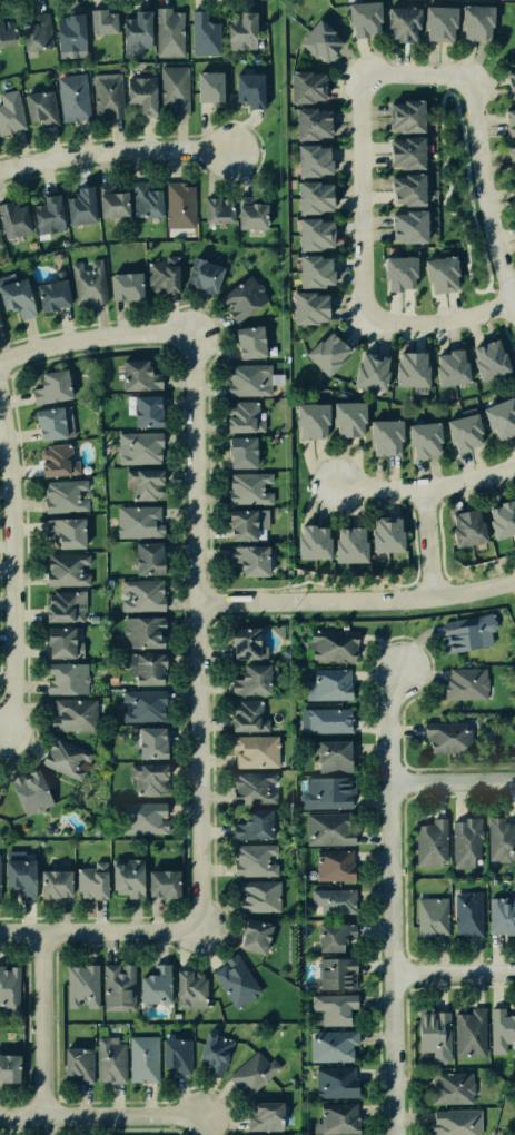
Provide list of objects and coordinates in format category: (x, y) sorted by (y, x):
building: (359, 18)
building: (398, 20)
building: (435, 21)
building: (472, 21)
building: (99, 22)
building: (132, 29)
building: (4, 31)
building: (32, 32)
building: (66, 32)
building: (167, 32)
building: (206, 32)
building: (244, 32)
park: (504, 32)
building: (319, 39)
road: (413, 76)
building: (210, 81)
building: (303, 82)
road: (450, 82)
building: (508, 82)
road: (448, 89)
building: (174, 91)
building: (246, 93)
building: (105, 97)
building: (71, 98)
building: (137, 98)
road: (455, 98)
building: (36, 103)
road: (467, 103)
road: (460, 106)
building: (9, 112)
building: (399, 115)
road: (439, 120)
building: (306, 121)
building: (507, 121)
road: (463, 124)
road: (452, 125)
road: (472, 140)
road: (458, 141)
road: (466, 141)
road: (450, 146)
road: (112, 150)
building: (402, 151)
building: (308, 158)
building: (508, 158)
building: (402, 189)
building: (512, 191)
building: (310, 194)
road: (358, 197)
park: (460, 197)
building: (142, 199)
road: (483, 200)
building: (109, 204)
building: (76, 205)
building: (215, 206)
building: (177, 208)
building: (42, 214)
building: (249, 214)
road: (473, 216)
building: (12, 217)
road: (459, 219)
building: (403, 226)
building: (307, 231)
building: (0, 246)
building: (308, 269)
building: (394, 270)
building: (198, 273)
building: (437, 273)
building: (158, 276)
building: (85, 279)
building: (46, 285)
building: (122, 286)
road: (492, 290)
building: (13, 298)
road: (503, 299)
building: (240, 300)
building: (306, 306)
road: (507, 313)
road: (436, 323)
building: (0, 324)
park: (507, 335)
road: (507, 335)
road: (93, 337)
building: (240, 342)
building: (321, 352)
building: (484, 354)
building: (445, 362)
building: (364, 369)
building: (136, 372)
building: (405, 372)
building: (247, 382)
building: (44, 383)
building: (142, 409)
building: (498, 413)
building: (238, 416)
building: (345, 418)
building: (307, 420)
building: (41, 421)
building: (460, 427)
building: (380, 433)
building: (418, 433)
building: (141, 446)
building: (236, 452)
building: (51, 457)
building: (143, 484)
road: (426, 488)
building: (246, 490)
building: (65, 495)
building: (498, 516)
building: (138, 522)
building: (236, 525)
building: (460, 525)
building: (60, 532)
building: (382, 533)
building: (307, 542)
building: (346, 543)
road: (427, 543)
building: (140, 557)
building: (245, 560)
building: (65, 570)
road: (10, 574)
building: (139, 593)
road: (356, 602)
building: (63, 606)
road: (197, 626)
building: (142, 629)
building: (464, 631)
building: (238, 641)
building: (58, 644)
building: (330, 644)
building: (142, 665)
building: (248, 677)
building: (63, 680)
building: (328, 684)
building: (463, 684)
building: (143, 704)
building: (73, 715)
building: (239, 717)
building: (324, 720)
building: (447, 739)
building: (149, 740)
building: (251, 751)
building: (323, 757)
building: (65, 758)
building: (147, 778)
road: (452, 781)
building: (250, 789)
building: (26, 791)
building: (0, 792)
building: (324, 793)
building: (145, 818)
building: (248, 823)
building: (328, 829)
building: (463, 838)
building: (426, 842)
building: (499, 842)
building: (252, 861)
building: (0, 865)
building: (329, 866)
building: (17, 874)
building: (122, 876)
building: (50, 881)
building: (89, 882)
building: (164, 884)
building: (256, 897)
building: (330, 901)
road: (390, 901)
building: (467, 915)
building: (432, 917)
building: (502, 917)
road: (102, 932)
building: (247, 936)
building: (333, 939)
building: (333, 974)
road: (454, 976)
building: (230, 980)
building: (151, 983)
building: (116, 984)
building: (9, 987)
building: (79, 987)
building: (187, 987)
building: (333, 1010)
road: (42, 1025)
building: (502, 1029)
building: (468, 1030)
building: (428, 1032)
building: (330, 1046)
building: (211, 1050)
building: (175, 1056)
building: (142, 1059)
building: (107, 1060)
building: (75, 1063)
building: (8, 1067)
building: (252, 1073)
building: (331, 1084)
building: (452, 1084)
building: (260, 1116)
road: (102, 1117)
building: (335, 1119)
building: (454, 1121)
road: (207, 1126)
building: (148, 1133)

